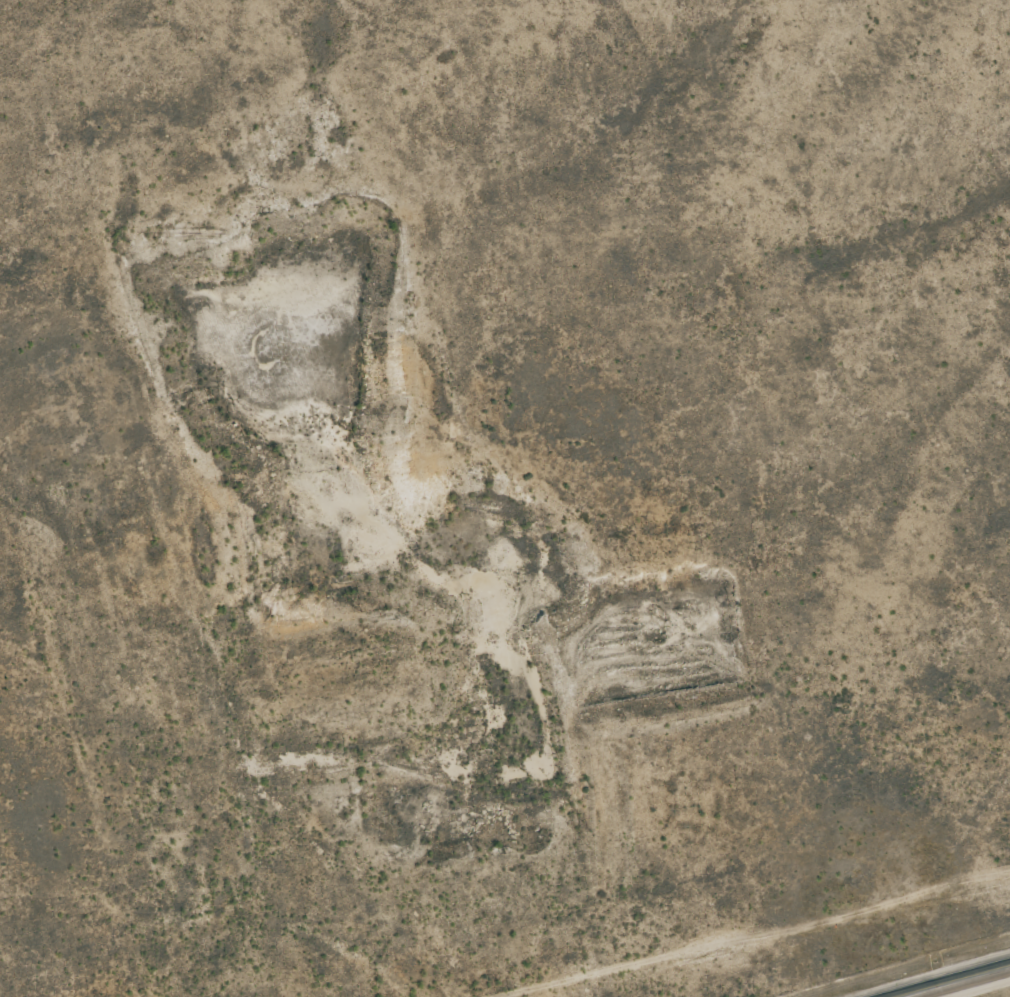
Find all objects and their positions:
road: (960, 983)

